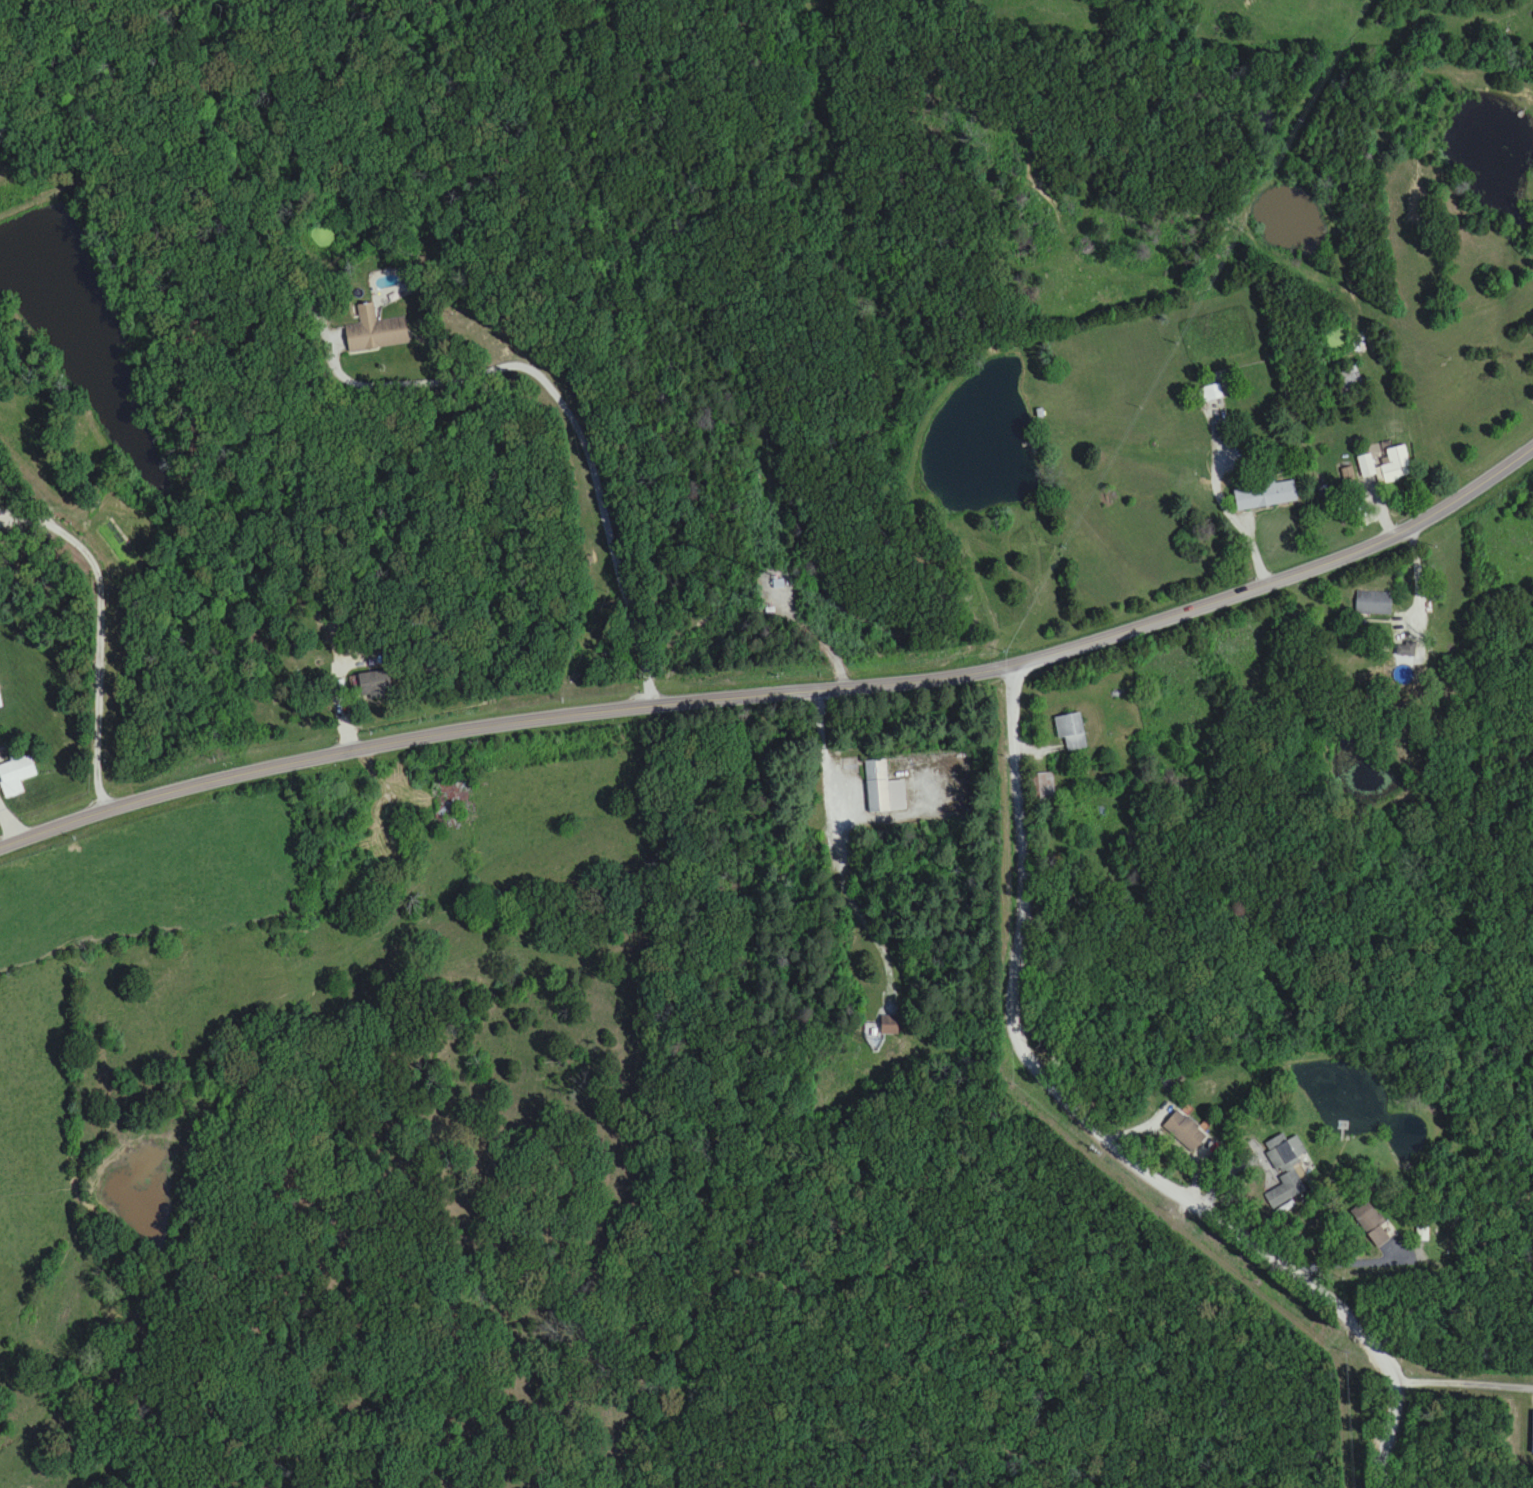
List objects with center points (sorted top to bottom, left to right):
building: (375, 331)
building: (1216, 388)
road: (573, 420)
building: (1397, 465)
building: (1366, 466)
building: (1263, 496)
road: (1224, 516)
building: (1373, 602)
road: (91, 633)
building: (1406, 650)
building: (375, 684)
road: (781, 691)
road: (340, 696)
building: (0, 703)
building: (1071, 731)
building: (15, 776)
building: (1043, 786)
building: (883, 788)
building: (444, 813)
road: (13, 817)
road: (839, 848)
building: (890, 1025)
building: (1185, 1131)
road: (1093, 1132)
building: (1286, 1167)
building: (1372, 1224)
building: (1423, 1233)
road: (1362, 1262)
road: (1465, 1381)

